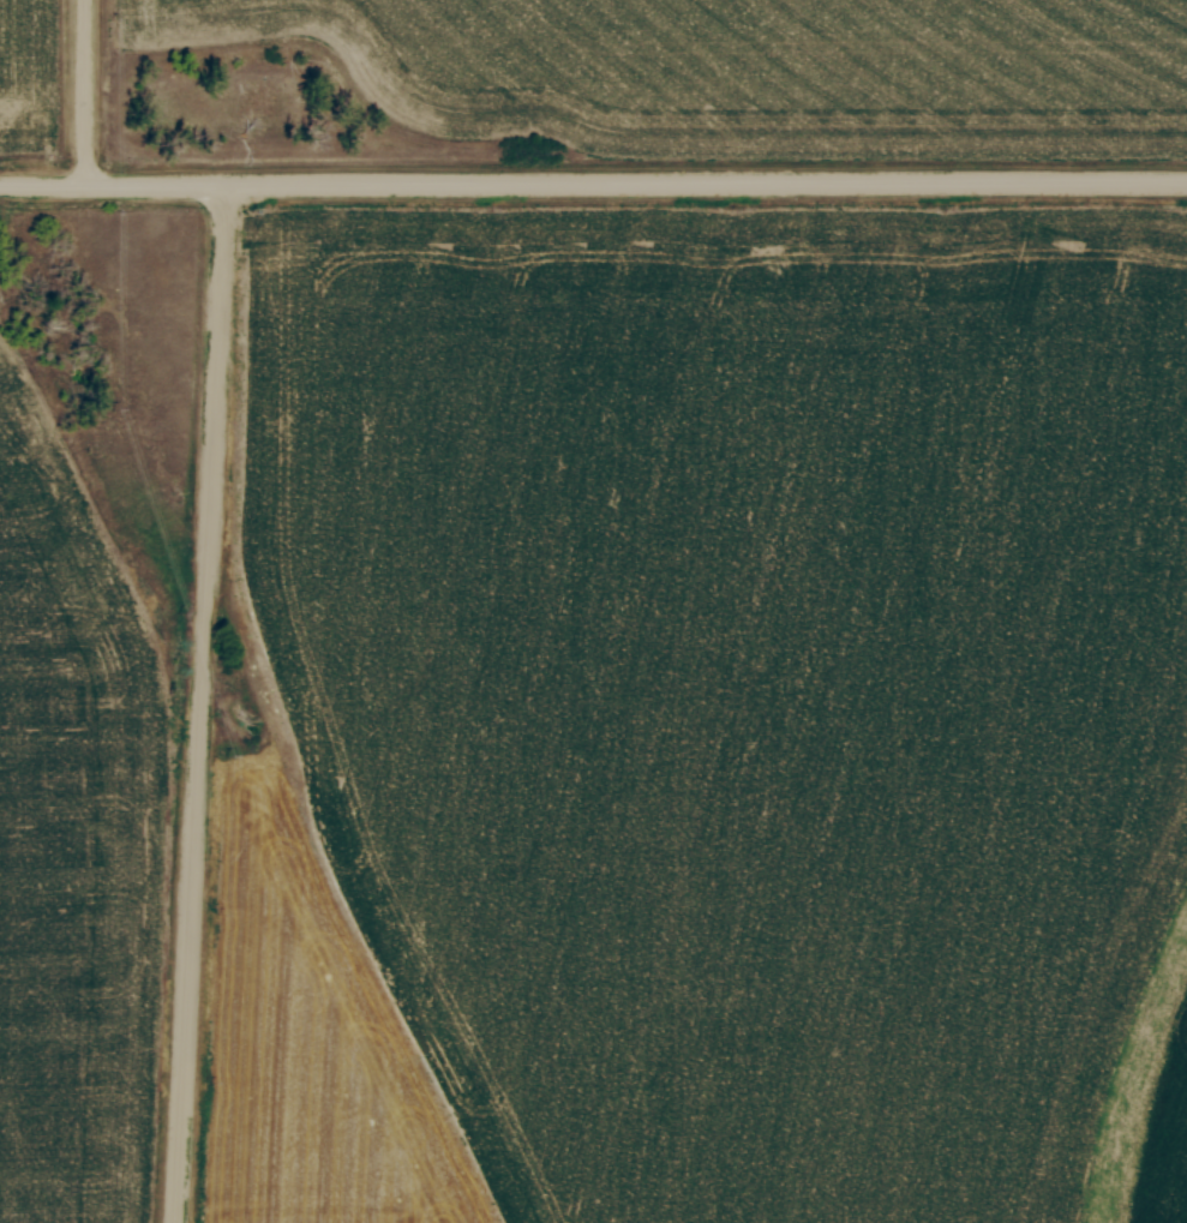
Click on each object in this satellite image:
road: (89, 95)
road: (593, 190)
crop: (739, 676)
road: (203, 707)
crop: (73, 851)

